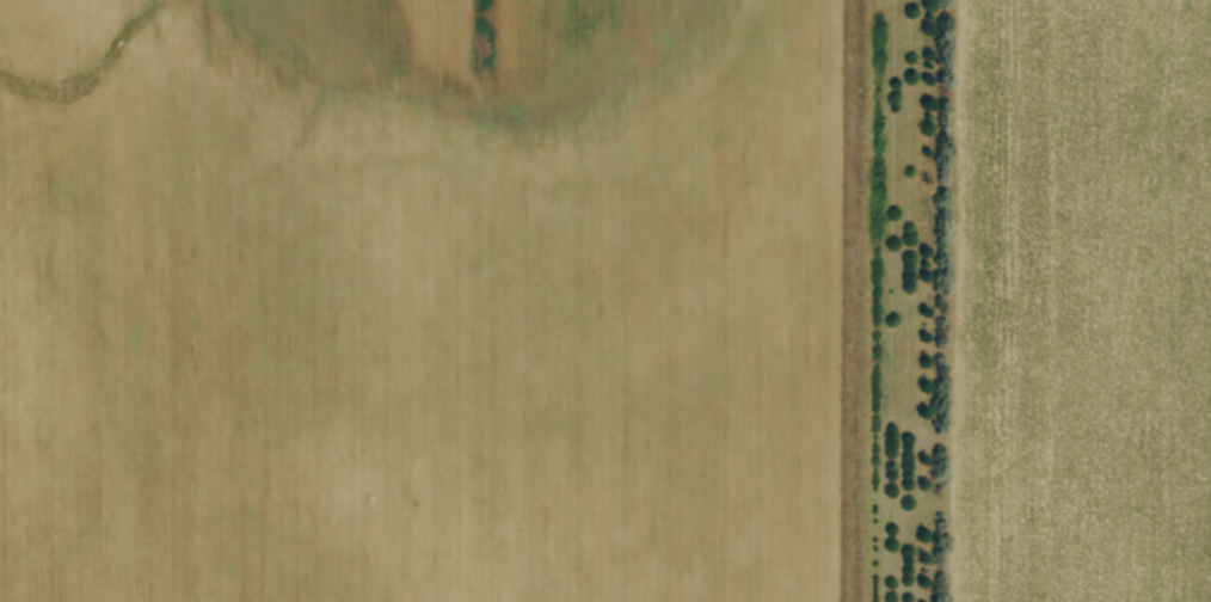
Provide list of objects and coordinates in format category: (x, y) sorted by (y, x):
crop: (419, 301)
crop: (1083, 301)

